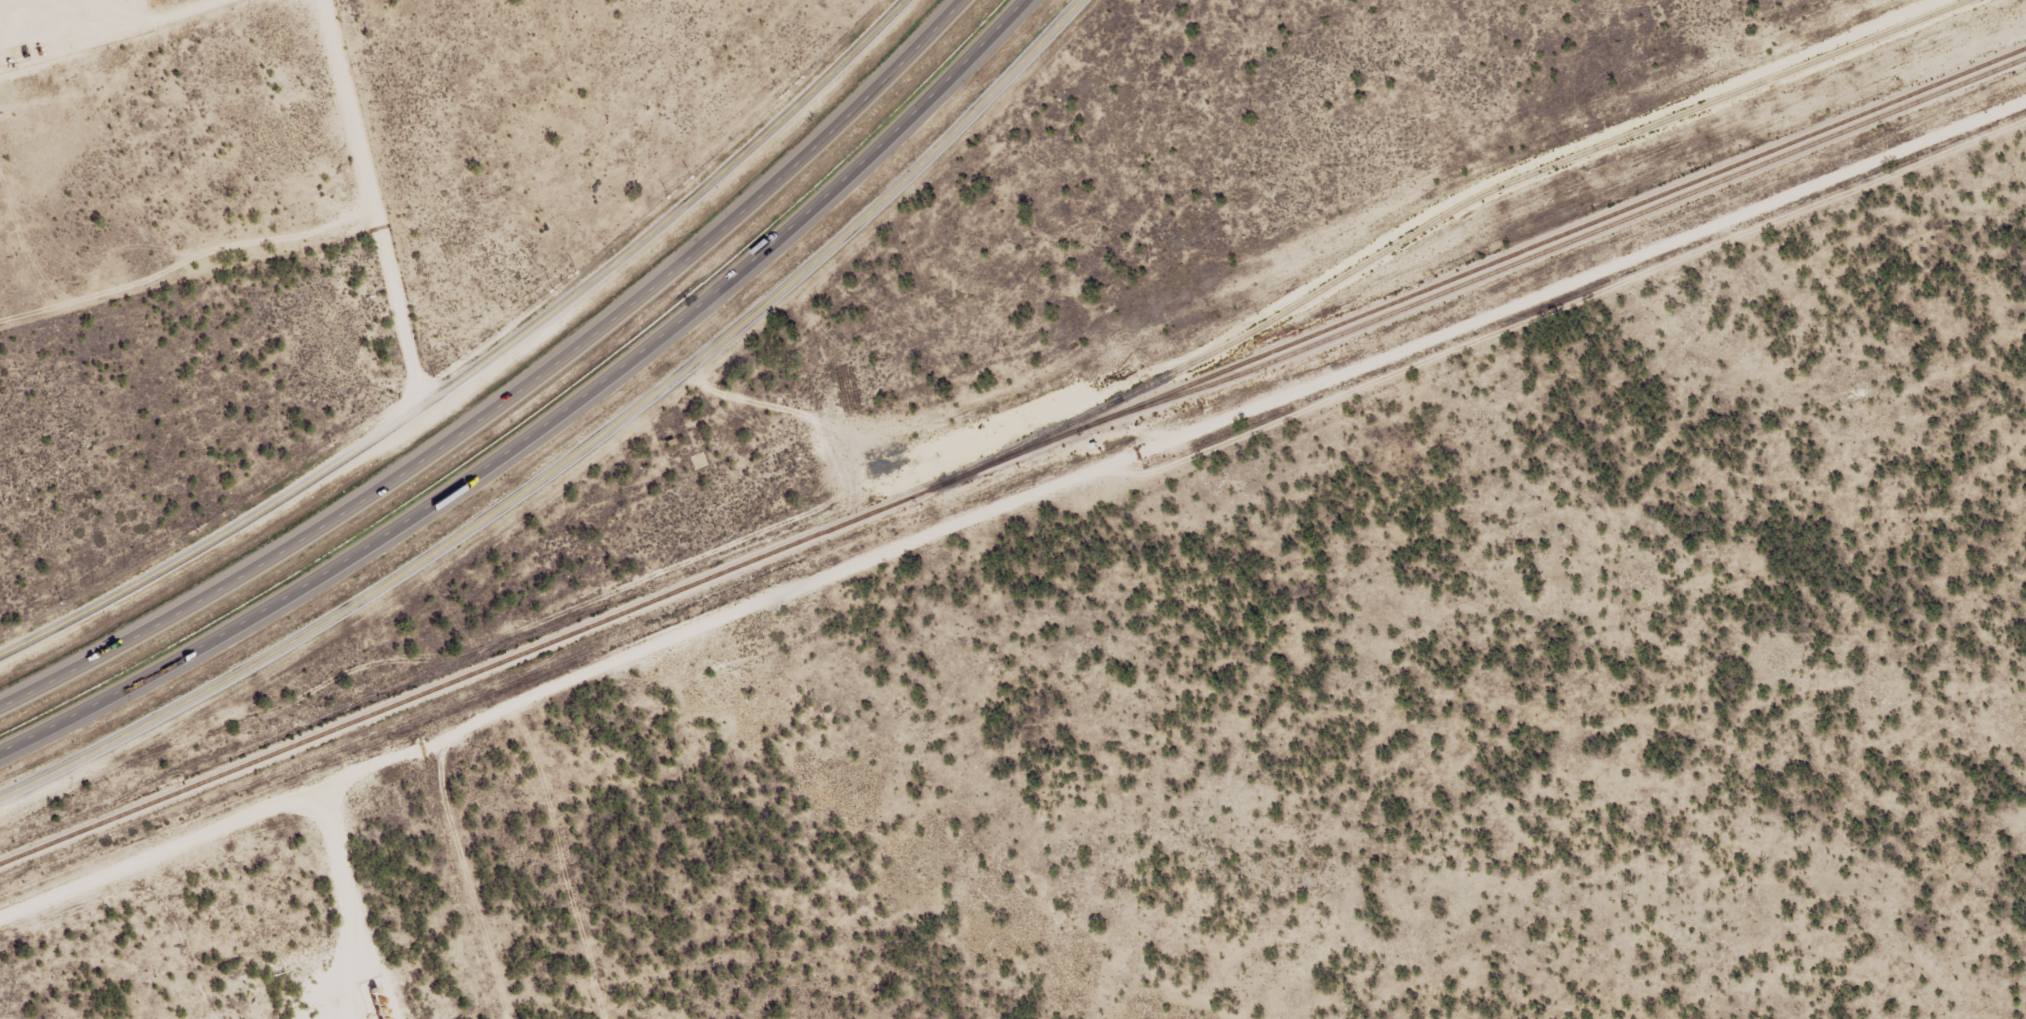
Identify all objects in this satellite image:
road: (975, 103)
road: (376, 201)
railway: (1438, 218)
railway: (1570, 240)
road: (481, 364)
road: (512, 396)
road: (546, 422)
railway: (1013, 455)
building: (698, 461)
road: (460, 533)

